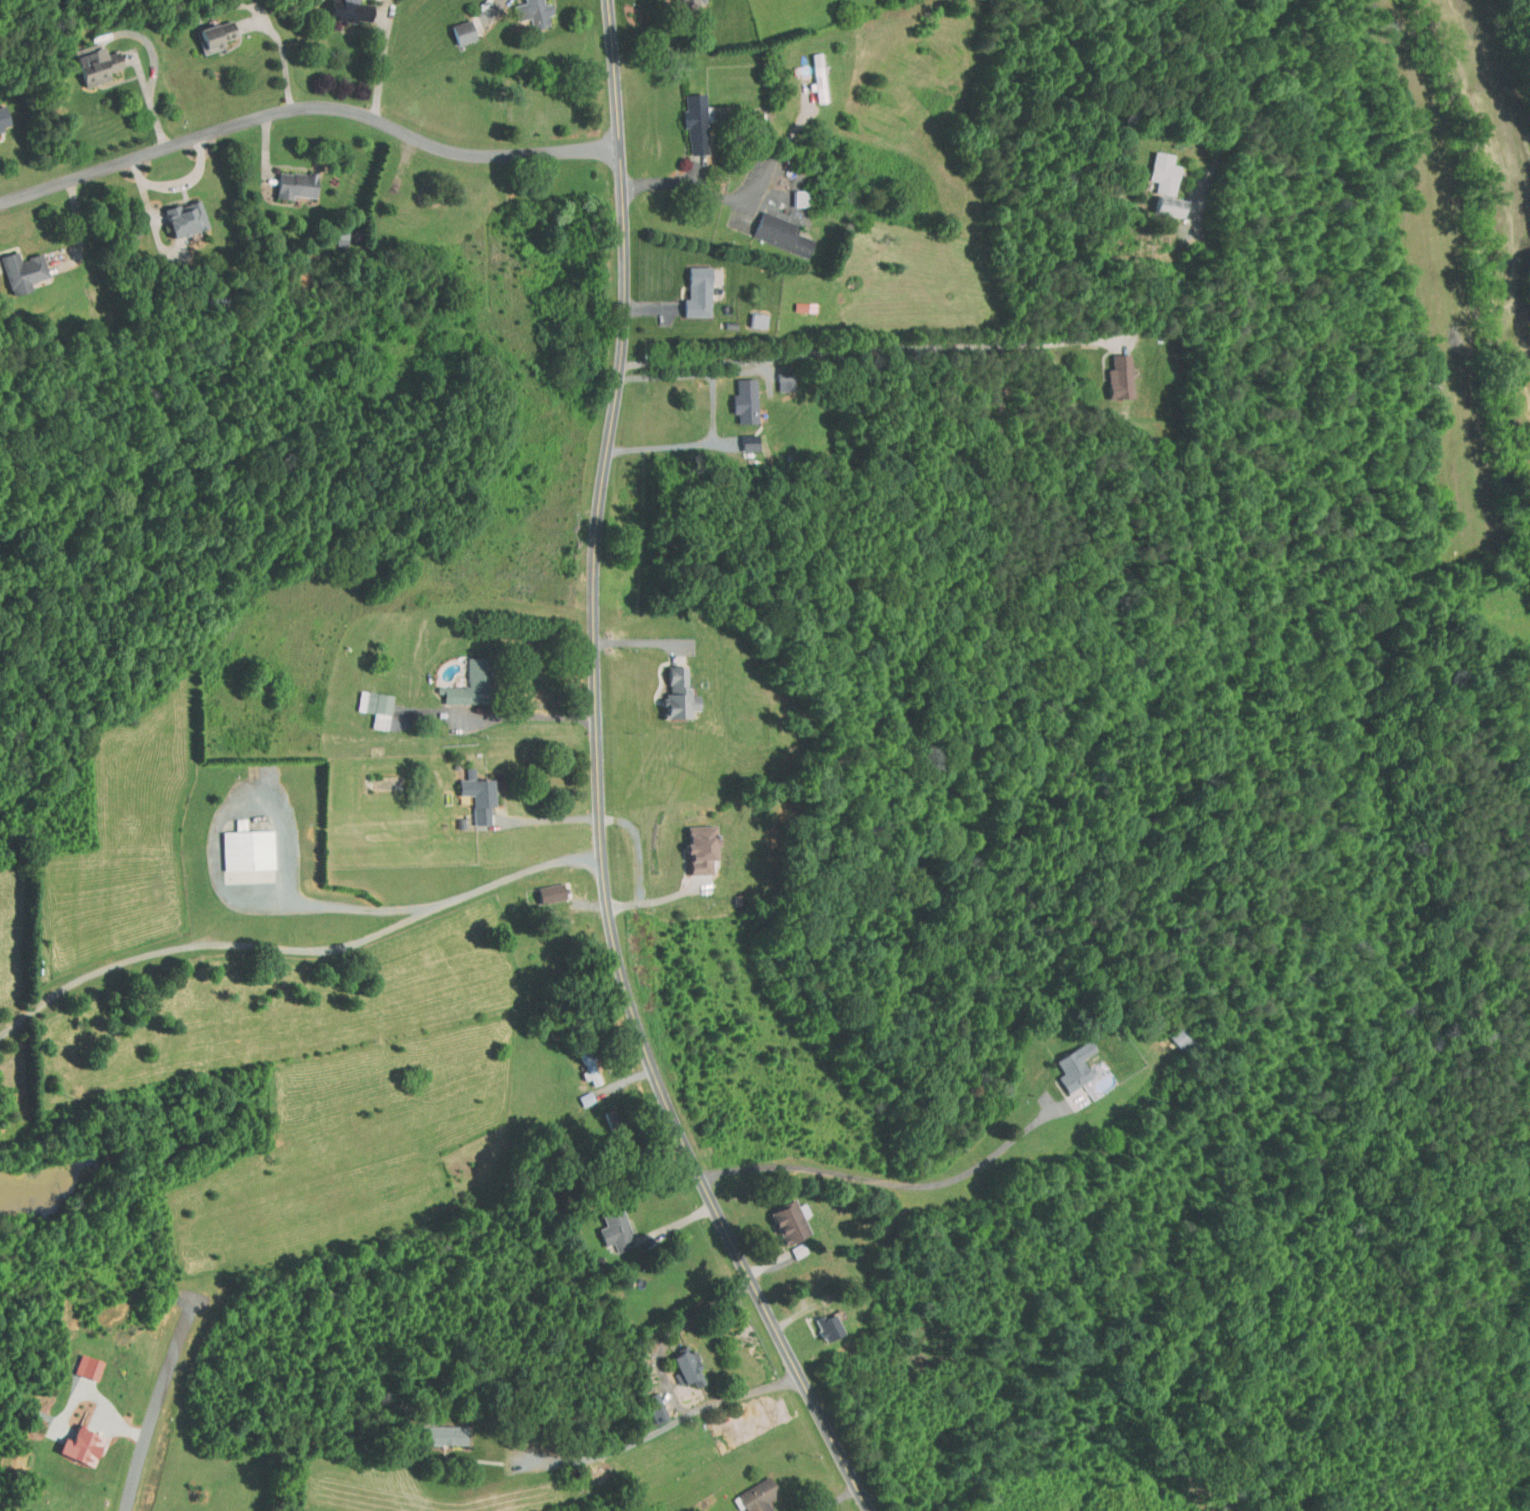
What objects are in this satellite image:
building: (672, 0)
building: (342, 6)
building: (529, 10)
building: (453, 26)
building: (205, 29)
road: (284, 53)
building: (86, 57)
road: (382, 69)
building: (809, 71)
road: (1244, 98)
road: (152, 99)
road: (307, 110)
building: (685, 116)
building: (0, 120)
building: (1155, 167)
building: (285, 179)
road: (179, 184)
building: (791, 192)
road: (735, 199)
building: (1160, 200)
building: (175, 212)
building: (772, 228)
building: (15, 266)
building: (688, 286)
building: (748, 314)
road: (869, 348)
building: (1110, 370)
road: (744, 371)
building: (775, 375)
building: (735, 395)
road: (714, 412)
building: (738, 437)
road: (645, 642)
building: (460, 678)
building: (668, 689)
building: (366, 702)
road: (529, 715)
road: (598, 783)
building: (468, 790)
road: (551, 819)
building: (691, 843)
building: (238, 844)
road: (641, 846)
road: (225, 882)
building: (543, 887)
road: (662, 900)
road: (298, 941)
building: (1170, 1030)
building: (1066, 1060)
building: (1082, 1081)
road: (890, 1183)
building: (781, 1216)
building: (606, 1226)
building: (789, 1244)
building: (818, 1321)
building: (78, 1362)
building: (679, 1363)
road: (669, 1383)
road: (101, 1399)
building: (647, 1403)
road: (159, 1404)
building: (434, 1429)
building: (72, 1441)
road: (616, 1451)
building: (749, 1492)

